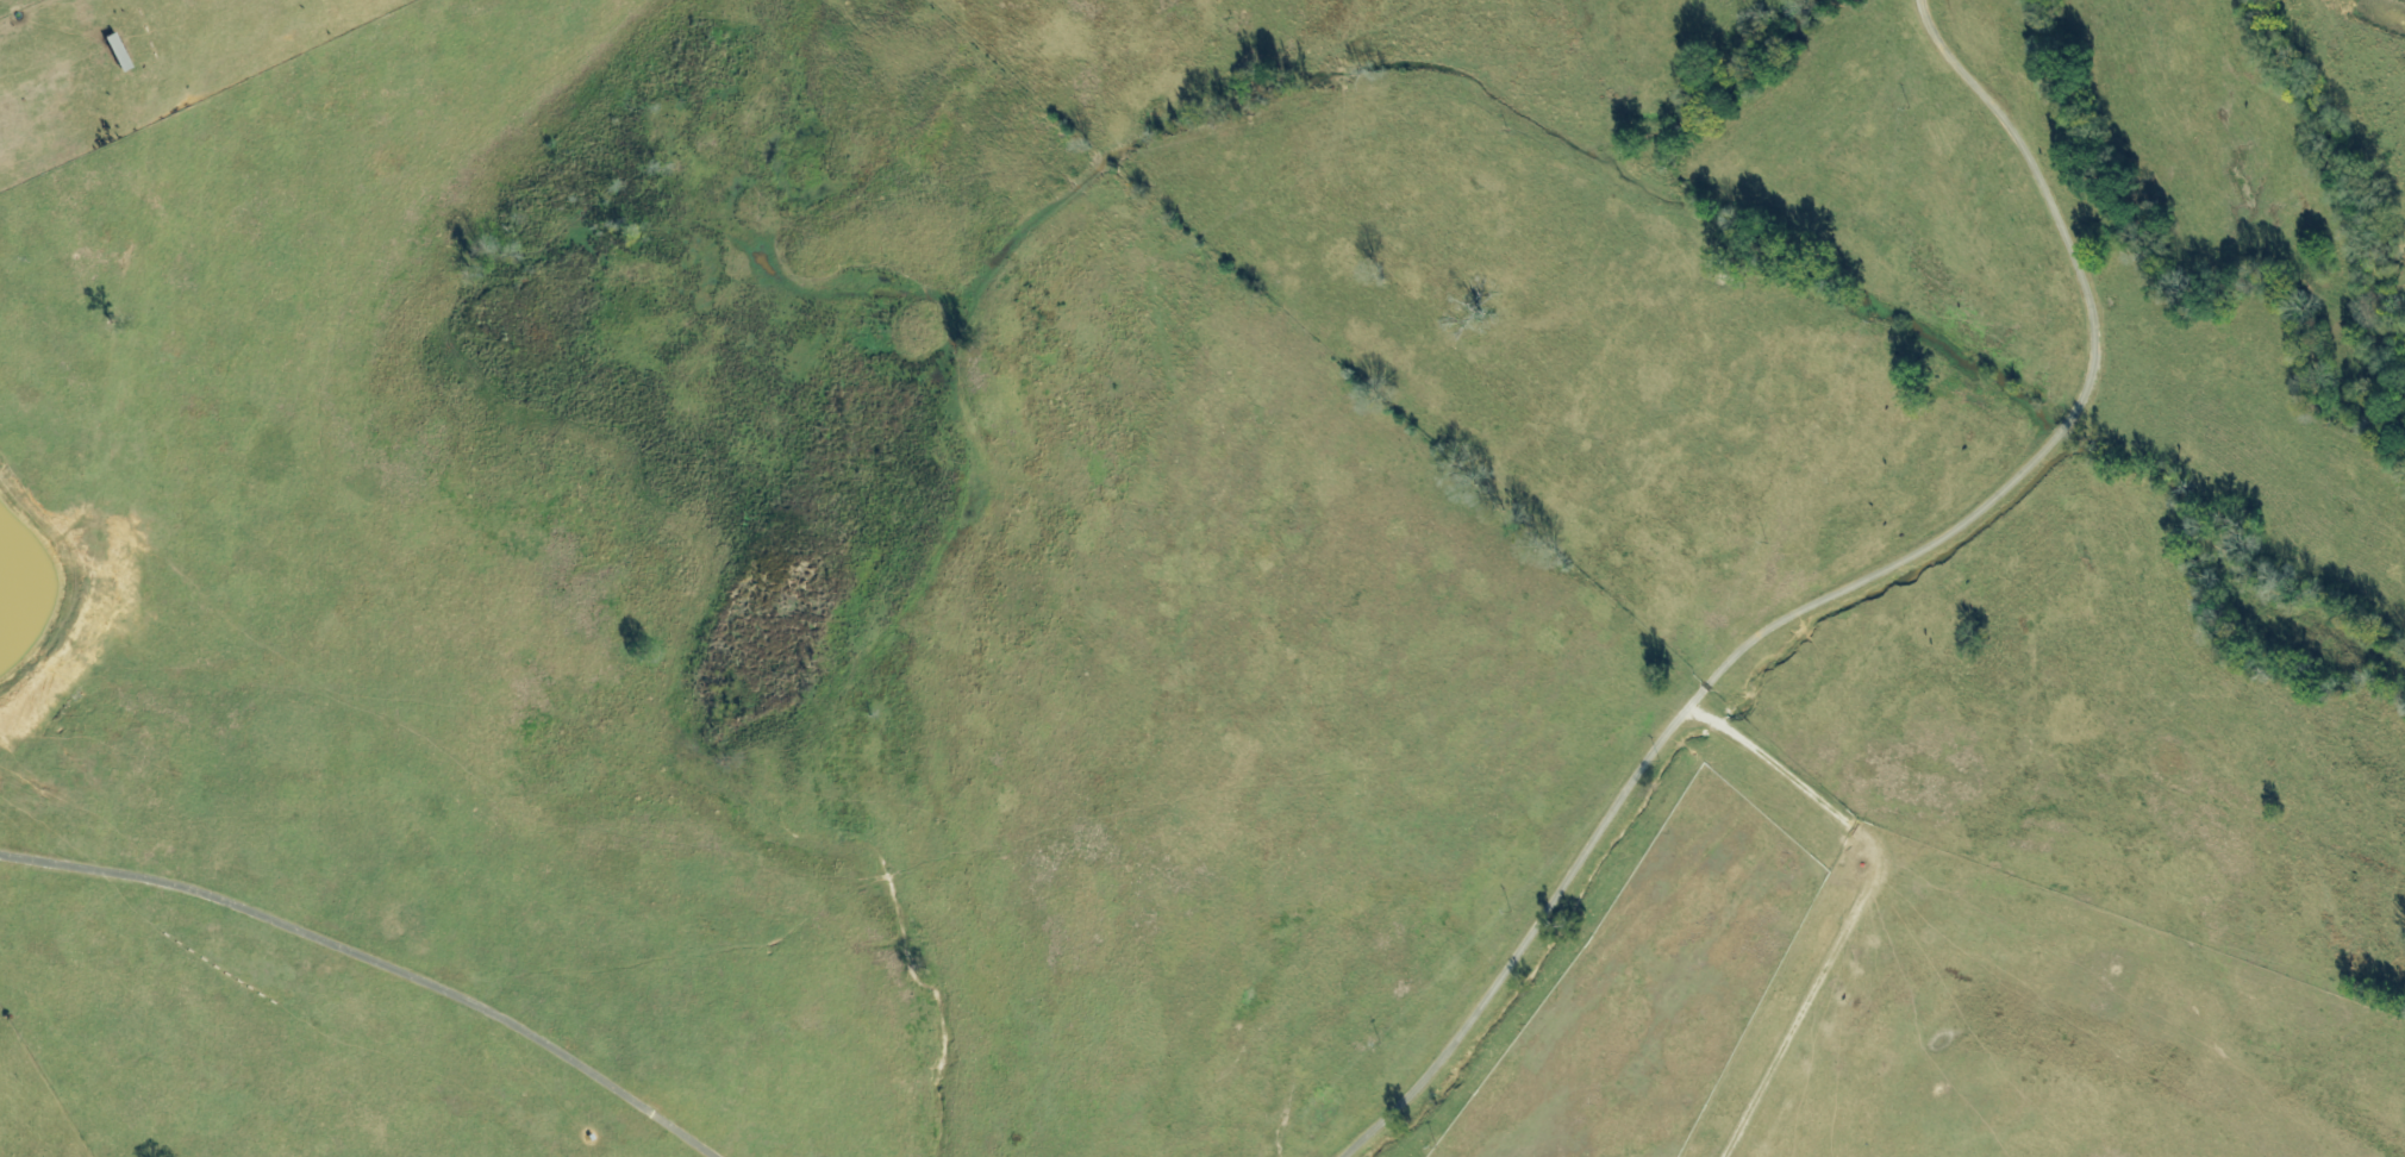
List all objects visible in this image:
road: (1844, 596)
road: (373, 962)

